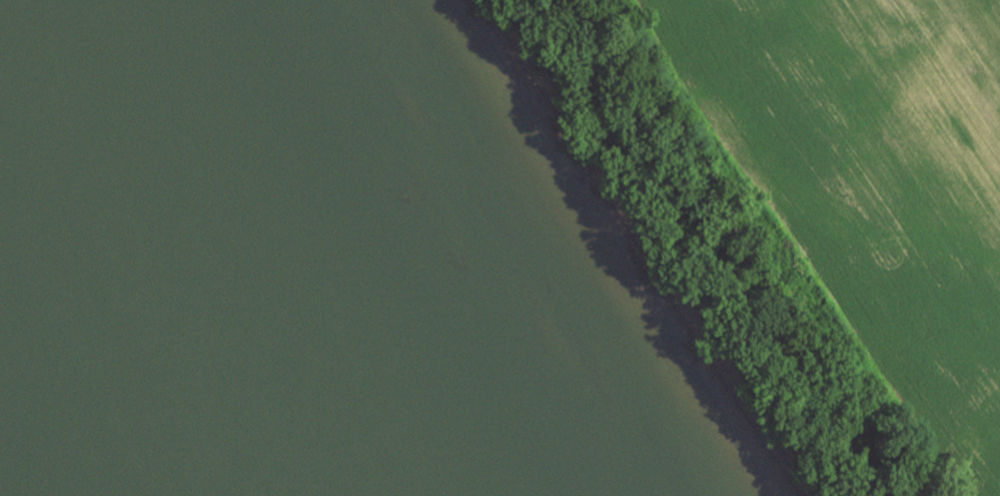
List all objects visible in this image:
crop: (880, 180)
river: (65, 403)

